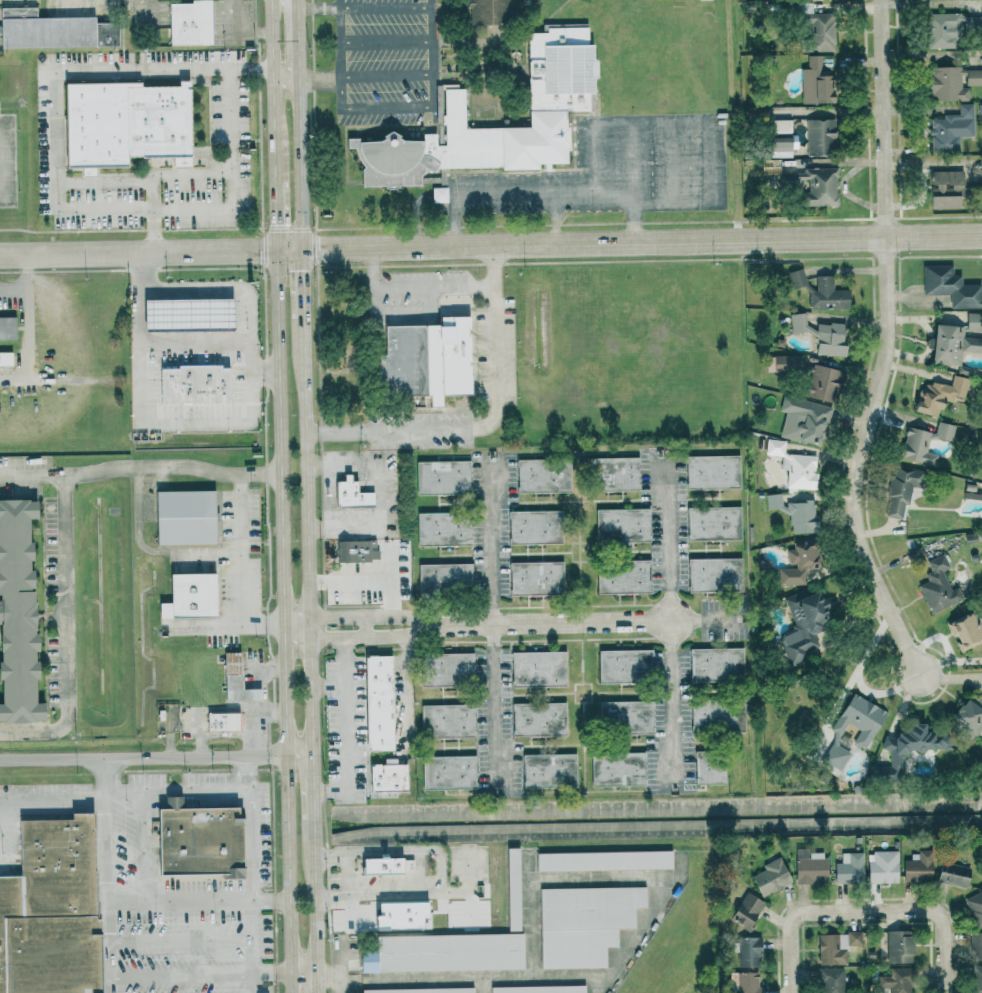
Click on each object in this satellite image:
building: (696, 0)
road: (339, 4)
road: (368, 7)
building: (488, 12)
building: (188, 23)
building: (972, 23)
building: (815, 26)
building: (52, 31)
building: (942, 31)
road: (235, 34)
road: (298, 39)
road: (340, 65)
road: (174, 68)
road: (421, 78)
road: (285, 80)
building: (815, 83)
building: (952, 83)
road: (272, 90)
building: (559, 99)
road: (628, 119)
building: (122, 124)
building: (778, 126)
building: (950, 129)
building: (819, 137)
building: (778, 147)
road: (672, 162)
road: (300, 165)
road: (190, 171)
road: (230, 176)
road: (634, 181)
building: (981, 181)
building: (809, 185)
building: (945, 190)
building: (437, 195)
road: (151, 213)
road: (274, 215)
road: (556, 218)
road: (642, 242)
road: (288, 250)
road: (137, 252)
road: (373, 269)
building: (796, 279)
road: (303, 285)
road: (14, 287)
building: (949, 287)
road: (434, 288)
building: (826, 296)
building: (186, 315)
road: (28, 316)
building: (7, 328)
building: (821, 335)
building: (955, 341)
road: (194, 343)
road: (886, 347)
building: (4, 359)
building: (424, 360)
building: (783, 364)
road: (264, 372)
building: (820, 383)
building: (193, 385)
building: (939, 395)
road: (251, 412)
building: (803, 420)
road: (488, 425)
building: (923, 444)
building: (792, 465)
road: (139, 467)
road: (305, 469)
building: (711, 472)
building: (613, 473)
building: (542, 475)
building: (442, 477)
building: (897, 492)
building: (350, 493)
building: (793, 512)
building: (183, 517)
road: (138, 520)
building: (712, 523)
building: (621, 525)
building: (533, 526)
building: (443, 529)
road: (243, 547)
road: (206, 550)
building: (353, 550)
building: (800, 565)
building: (713, 574)
building: (443, 578)
building: (535, 578)
building: (622, 578)
road: (349, 580)
road: (390, 580)
building: (937, 586)
building: (187, 596)
building: (16, 609)
road: (371, 616)
road: (295, 617)
road: (671, 620)
road: (710, 620)
road: (282, 621)
road: (552, 622)
road: (226, 623)
building: (802, 623)
road: (495, 624)
road: (365, 627)
road: (308, 628)
building: (966, 631)
road: (64, 633)
road: (372, 637)
road: (296, 639)
building: (715, 664)
building: (623, 666)
building: (537, 668)
building: (446, 669)
road: (259, 676)
building: (235, 679)
road: (407, 695)
road: (310, 697)
building: (377, 703)
road: (272, 707)
road: (259, 708)
building: (715, 715)
building: (968, 715)
building: (625, 716)
building: (540, 719)
road: (348, 720)
building: (221, 721)
building: (448, 721)
building: (851, 730)
road: (260, 745)
road: (201, 746)
building: (906, 748)
road: (298, 755)
road: (142, 757)
building: (708, 768)
building: (618, 770)
building: (550, 771)
road: (246, 773)
building: (449, 773)
building: (386, 777)
road: (311, 784)
road: (174, 790)
road: (197, 801)
road: (52, 802)
building: (196, 839)
road: (142, 846)
building: (605, 862)
building: (380, 865)
building: (809, 867)
building: (882, 867)
building: (917, 867)
building: (848, 868)
building: (952, 874)
road: (106, 875)
road: (347, 877)
building: (770, 877)
road: (253, 889)
road: (312, 892)
road: (197, 901)
building: (975, 908)
building: (49, 909)
building: (746, 911)
building: (399, 915)
road: (792, 917)
road: (941, 917)
building: (583, 923)
road: (181, 942)
building: (456, 944)
building: (975, 946)
building: (835, 947)
building: (899, 947)
building: (747, 951)
road: (271, 971)
road: (301, 972)
road: (181, 976)
building: (976, 979)
building: (830, 980)
building: (896, 980)
road: (314, 982)
building: (743, 982)
building: (538, 989)
building: (420, 990)

